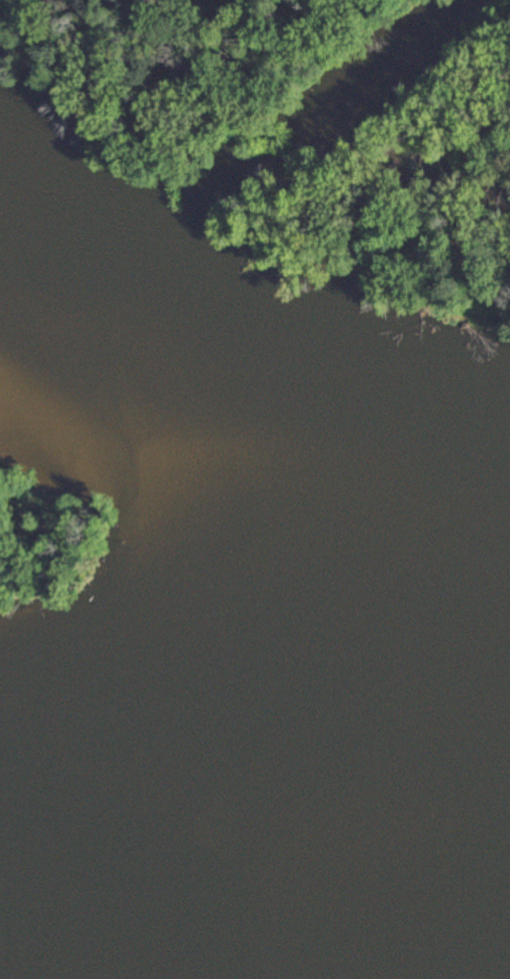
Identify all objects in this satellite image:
river: (253, 867)

